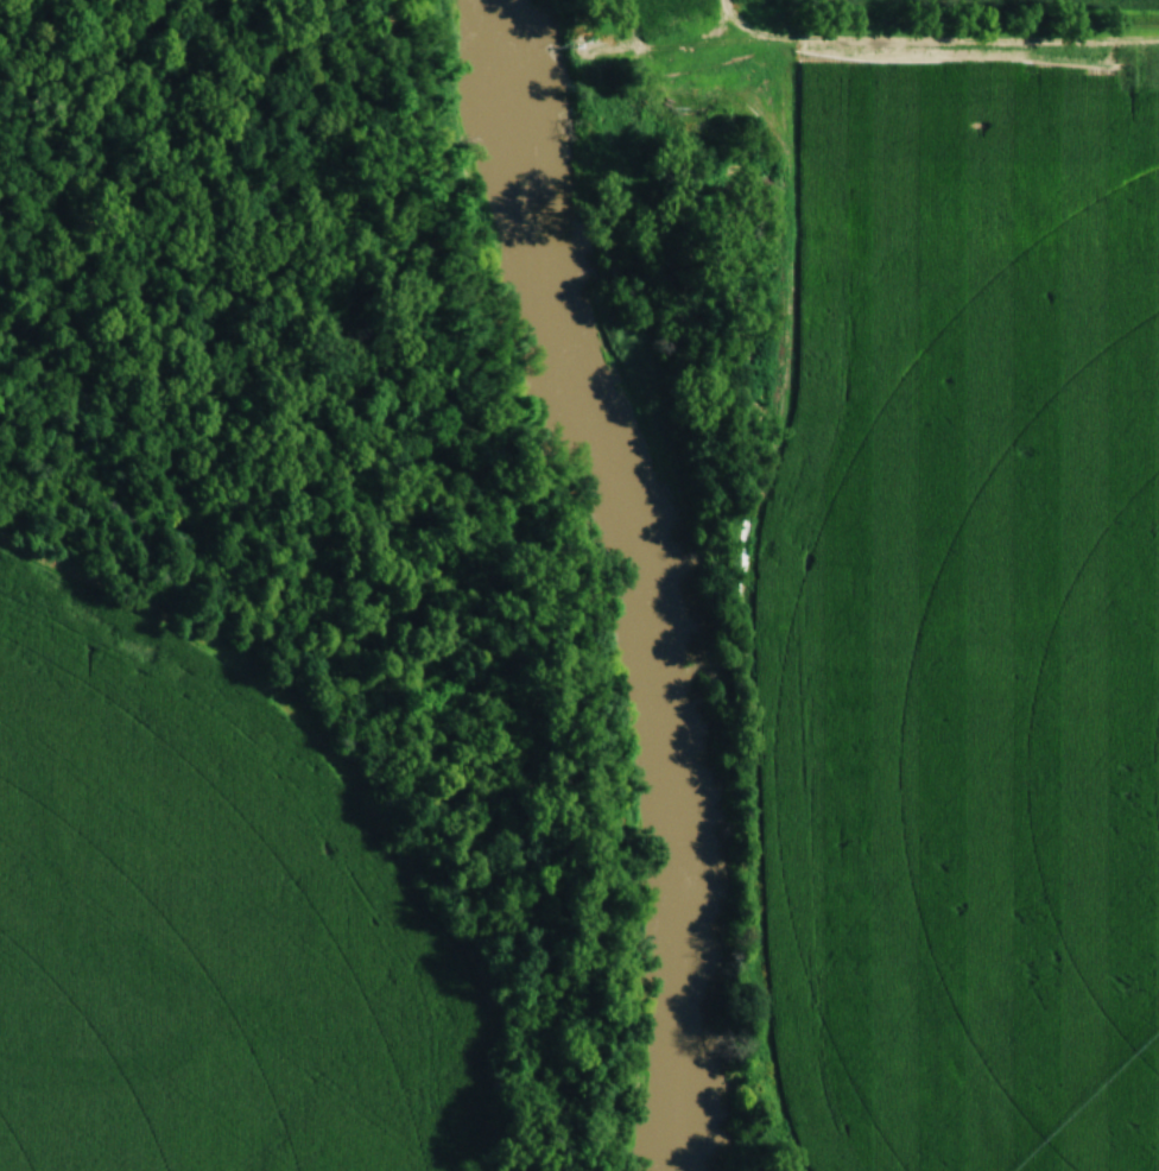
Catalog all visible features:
river: (629, 581)

